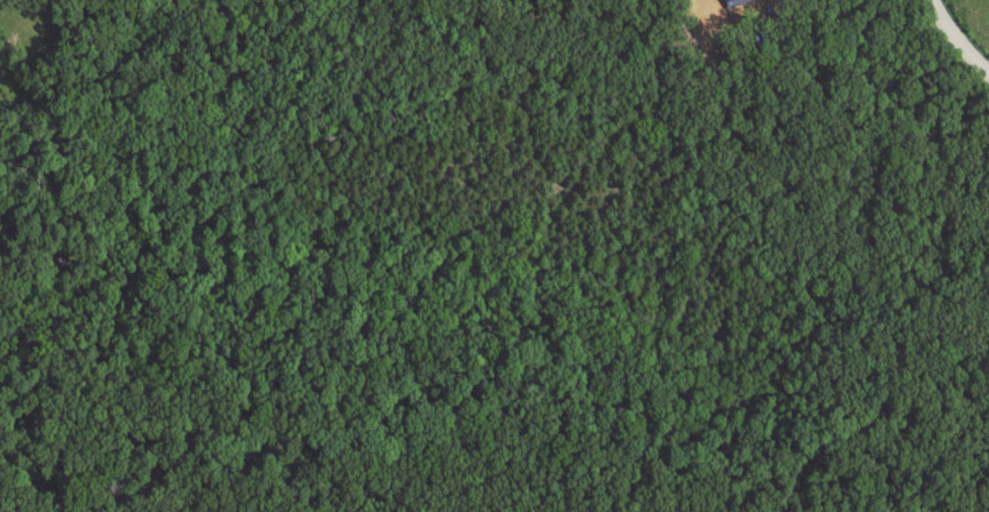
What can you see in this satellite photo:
building: (764, 34)
road: (960, 38)

